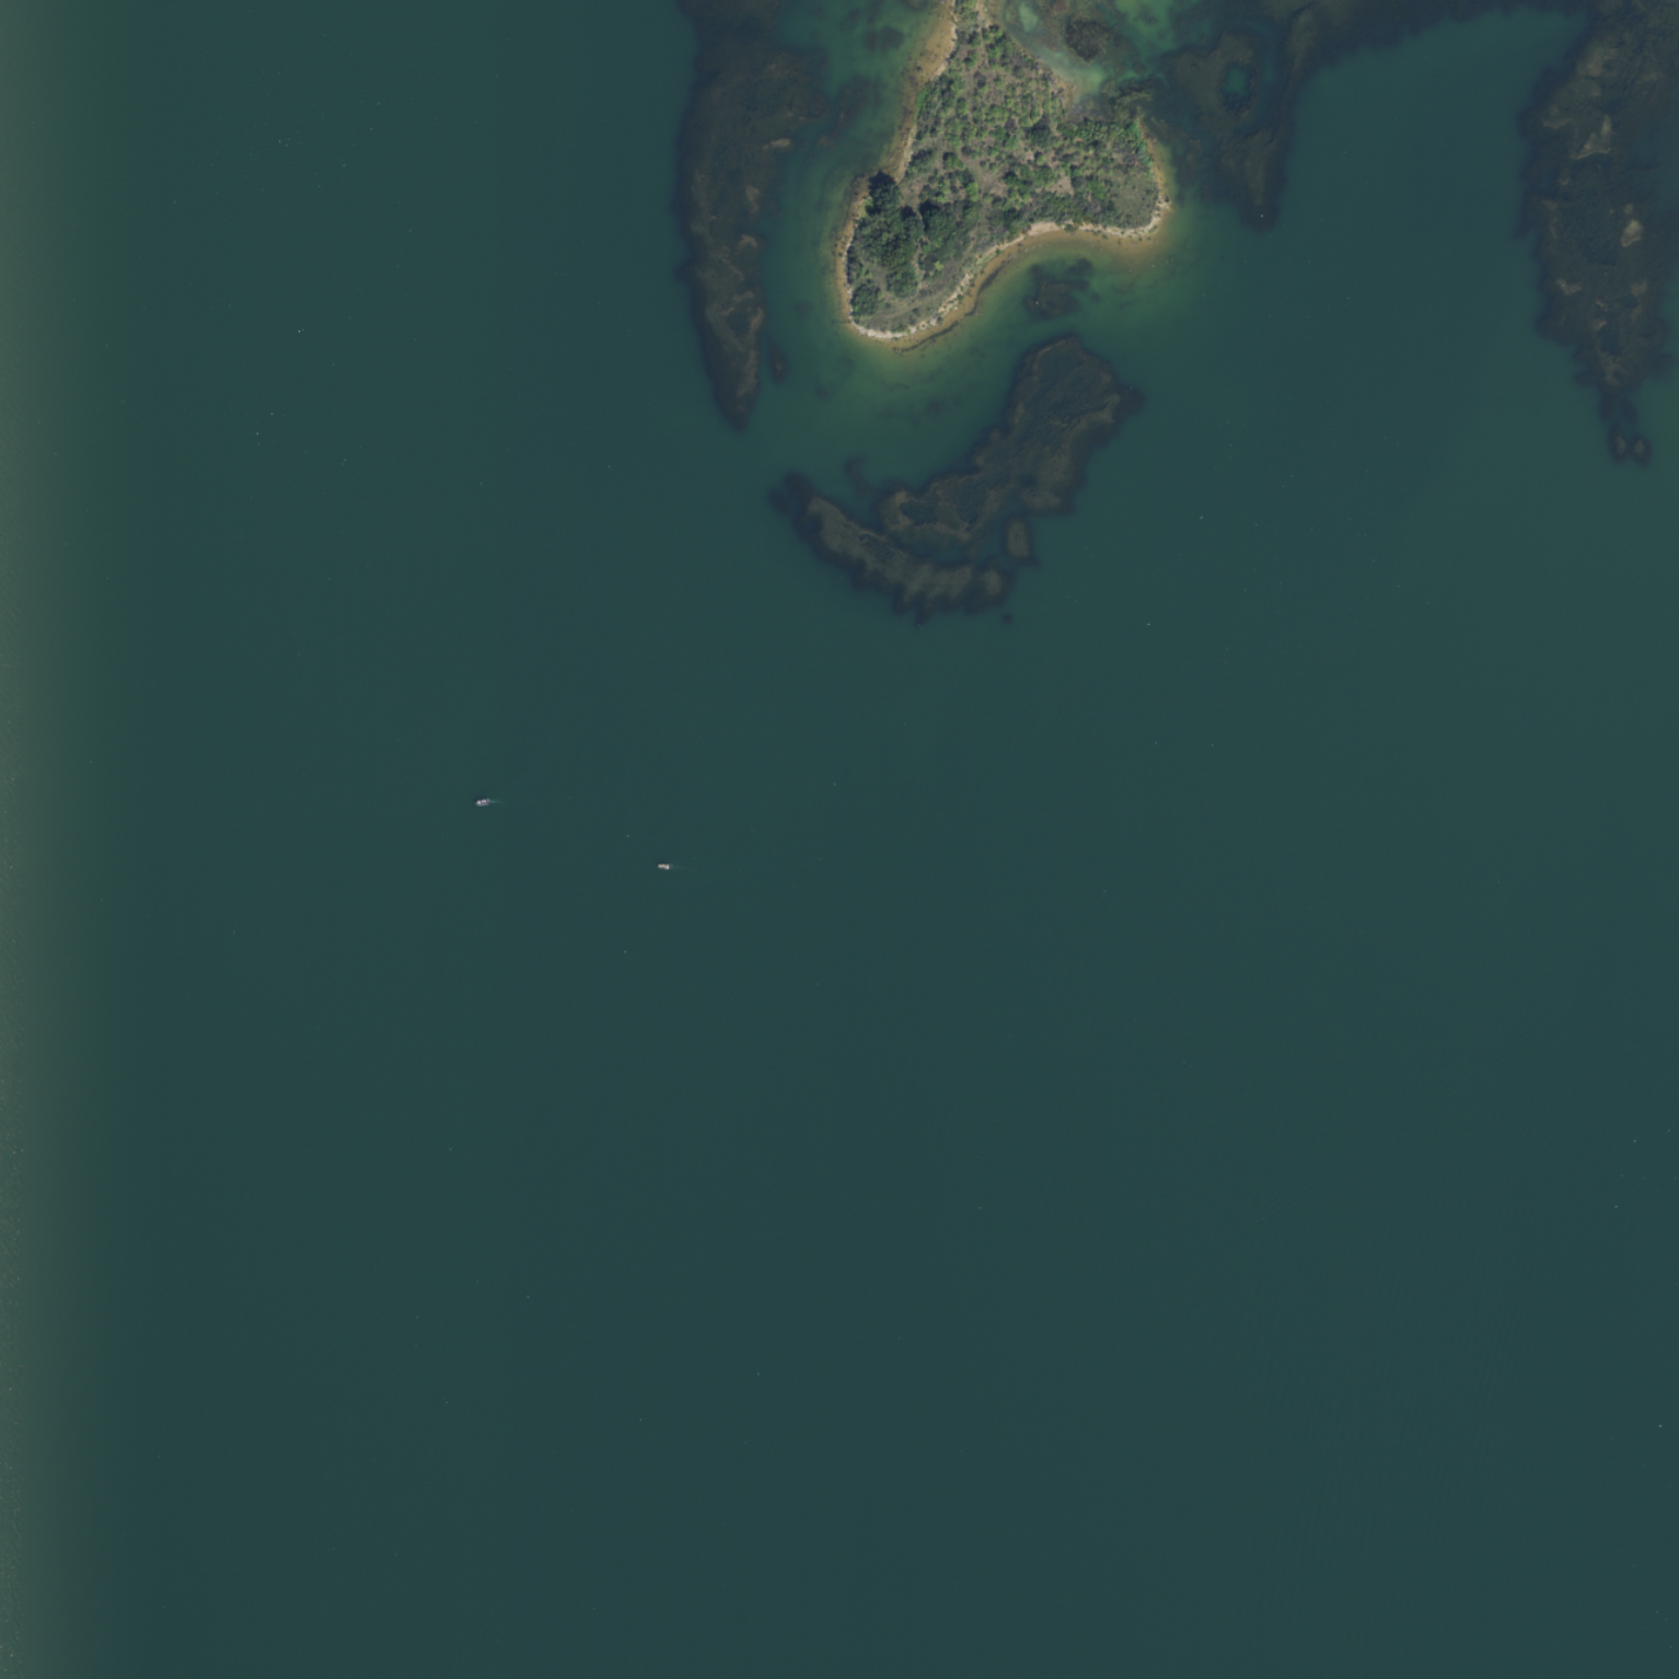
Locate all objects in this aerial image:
road: (957, 107)

